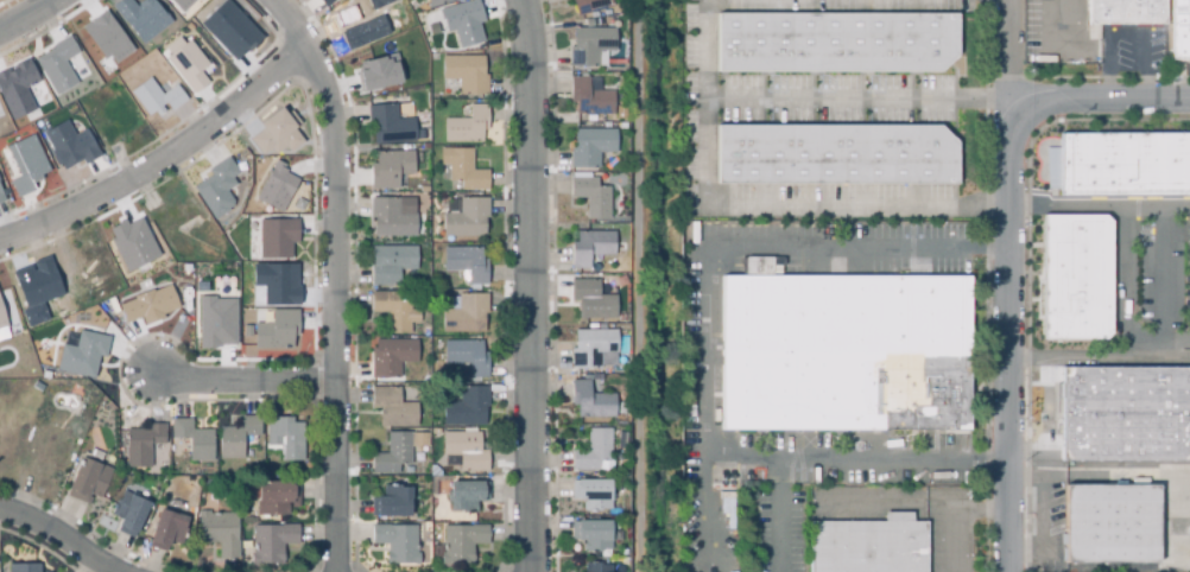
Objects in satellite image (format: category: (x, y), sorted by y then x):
building: (568, 0)
building: (323, 1)
building: (431, 1)
building: (179, 2)
building: (376, 2)
building: (591, 6)
building: (1126, 12)
road: (27, 17)
building: (141, 17)
building: (461, 21)
road: (289, 26)
building: (226, 30)
building: (1180, 30)
building: (363, 32)
building: (105, 34)
road: (1131, 40)
building: (835, 43)
building: (591, 46)
road: (704, 50)
building: (58, 63)
building: (189, 64)
building: (374, 74)
building: (467, 74)
building: (14, 88)
building: (153, 96)
building: (590, 97)
road: (1101, 101)
building: (393, 123)
building: (468, 126)
building: (276, 132)
building: (65, 145)
building: (593, 147)
building: (836, 154)
building: (24, 163)
road: (165, 163)
building: (1123, 164)
building: (391, 169)
building: (464, 169)
building: (214, 188)
building: (273, 188)
building: (591, 195)
building: (1, 196)
road: (739, 205)
building: (466, 217)
building: (392, 218)
building: (276, 237)
building: (129, 243)
building: (593, 248)
road: (759, 254)
building: (392, 265)
building: (468, 265)
building: (1077, 278)
building: (34, 282)
building: (274, 282)
building: (425, 285)
road: (534, 285)
road: (635, 285)
road: (1013, 285)
building: (198, 286)
road: (1118, 293)
road: (1160, 295)
building: (594, 300)
building: (146, 305)
road: (341, 310)
building: (395, 311)
building: (466, 314)
building: (1, 319)
building: (214, 322)
building: (245, 330)
building: (273, 330)
building: (594, 347)
building: (844, 351)
building: (80, 354)
building: (392, 356)
building: (468, 356)
road: (1101, 361)
road: (252, 383)
building: (593, 401)
building: (393, 407)
building: (468, 407)
building: (1126, 414)
building: (238, 437)
building: (285, 437)
building: (195, 439)
building: (144, 444)
building: (467, 450)
building: (594, 450)
building: (399, 451)
road: (800, 459)
building: (89, 479)
road: (1109, 481)
building: (433, 487)
building: (593, 492)
building: (467, 495)
building: (278, 497)
building: (392, 502)
building: (726, 503)
road: (916, 507)
building: (131, 513)
road: (778, 515)
road: (1038, 523)
building: (1113, 523)
building: (169, 529)
building: (220, 532)
building: (593, 534)
building: (1177, 534)
road: (65, 538)
road: (951, 540)
building: (272, 542)
building: (398, 542)
building: (462, 542)
building: (869, 545)
building: (25, 567)
building: (597, 567)

